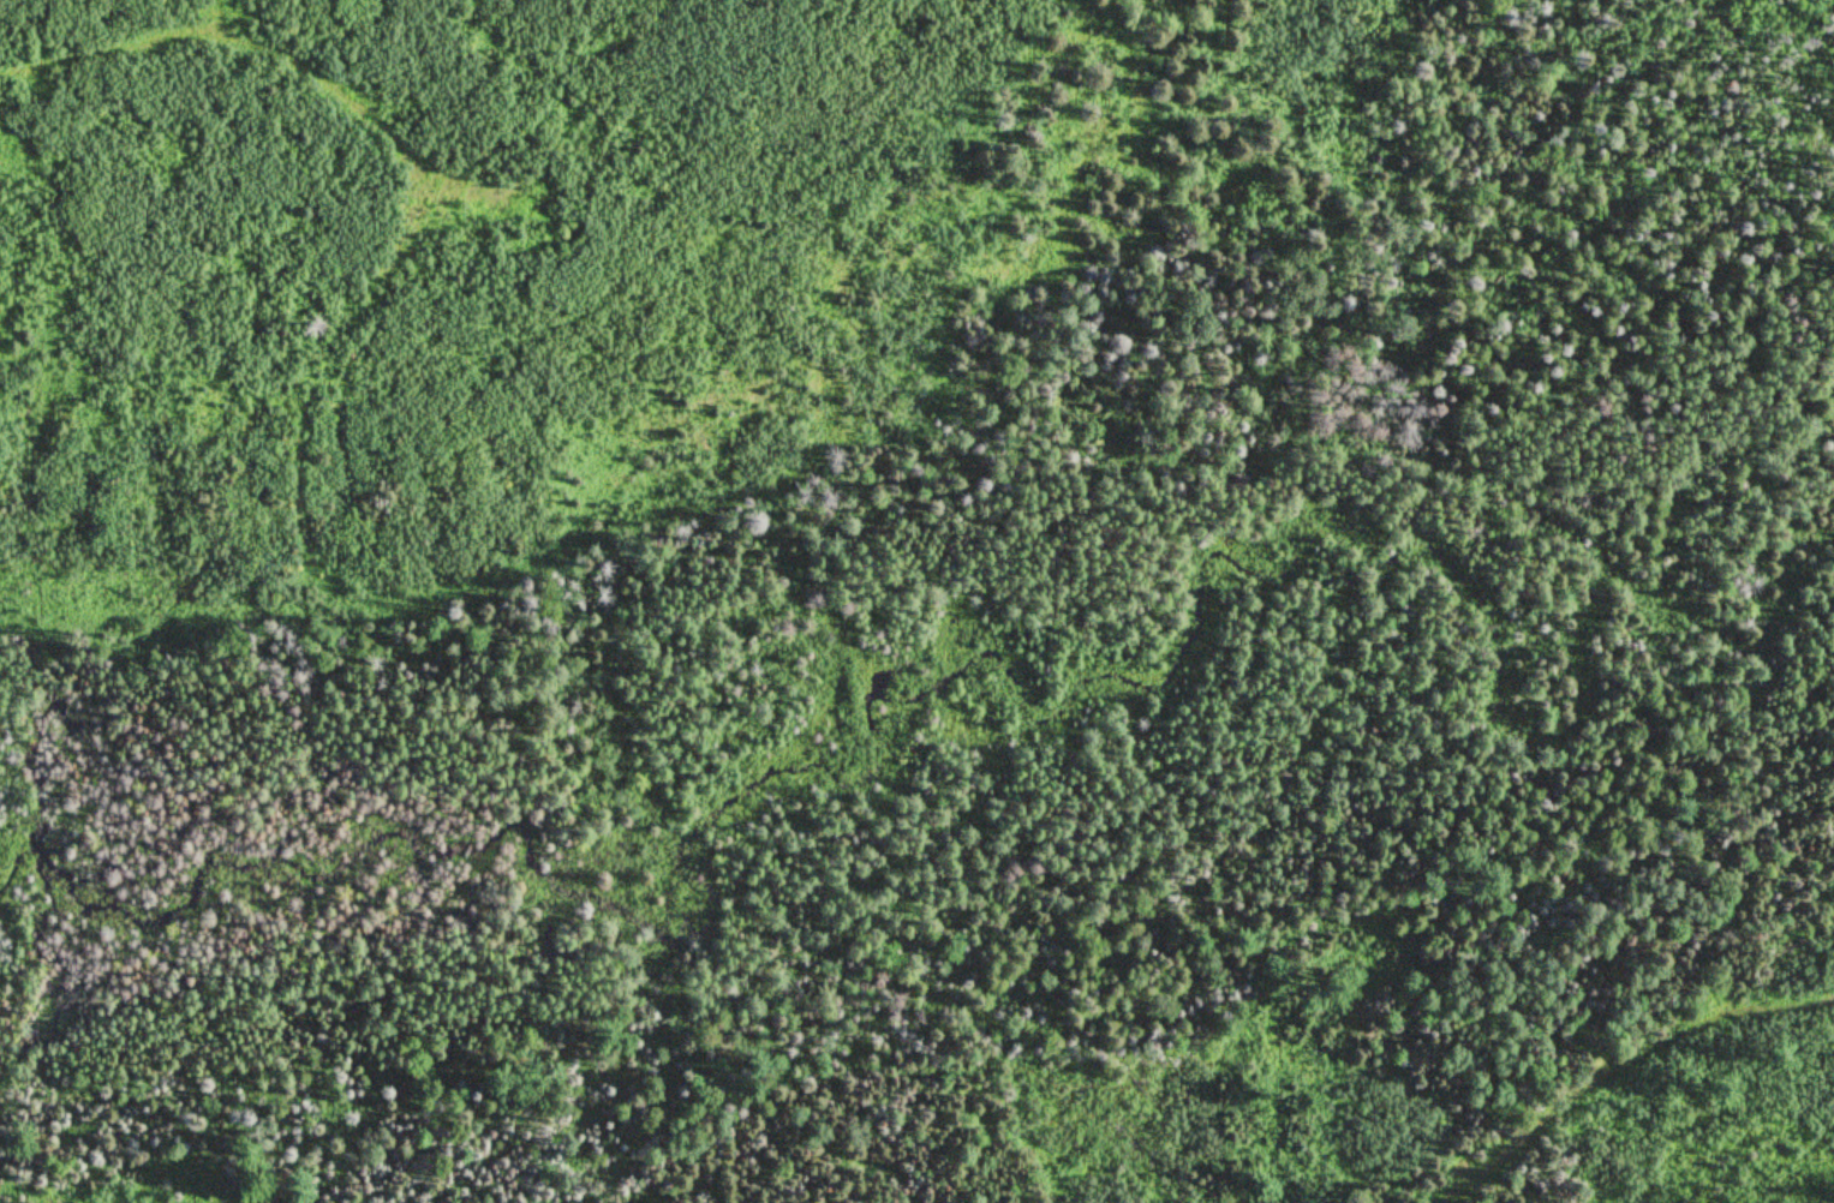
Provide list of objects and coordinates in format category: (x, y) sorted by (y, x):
road: (1619, 1064)

